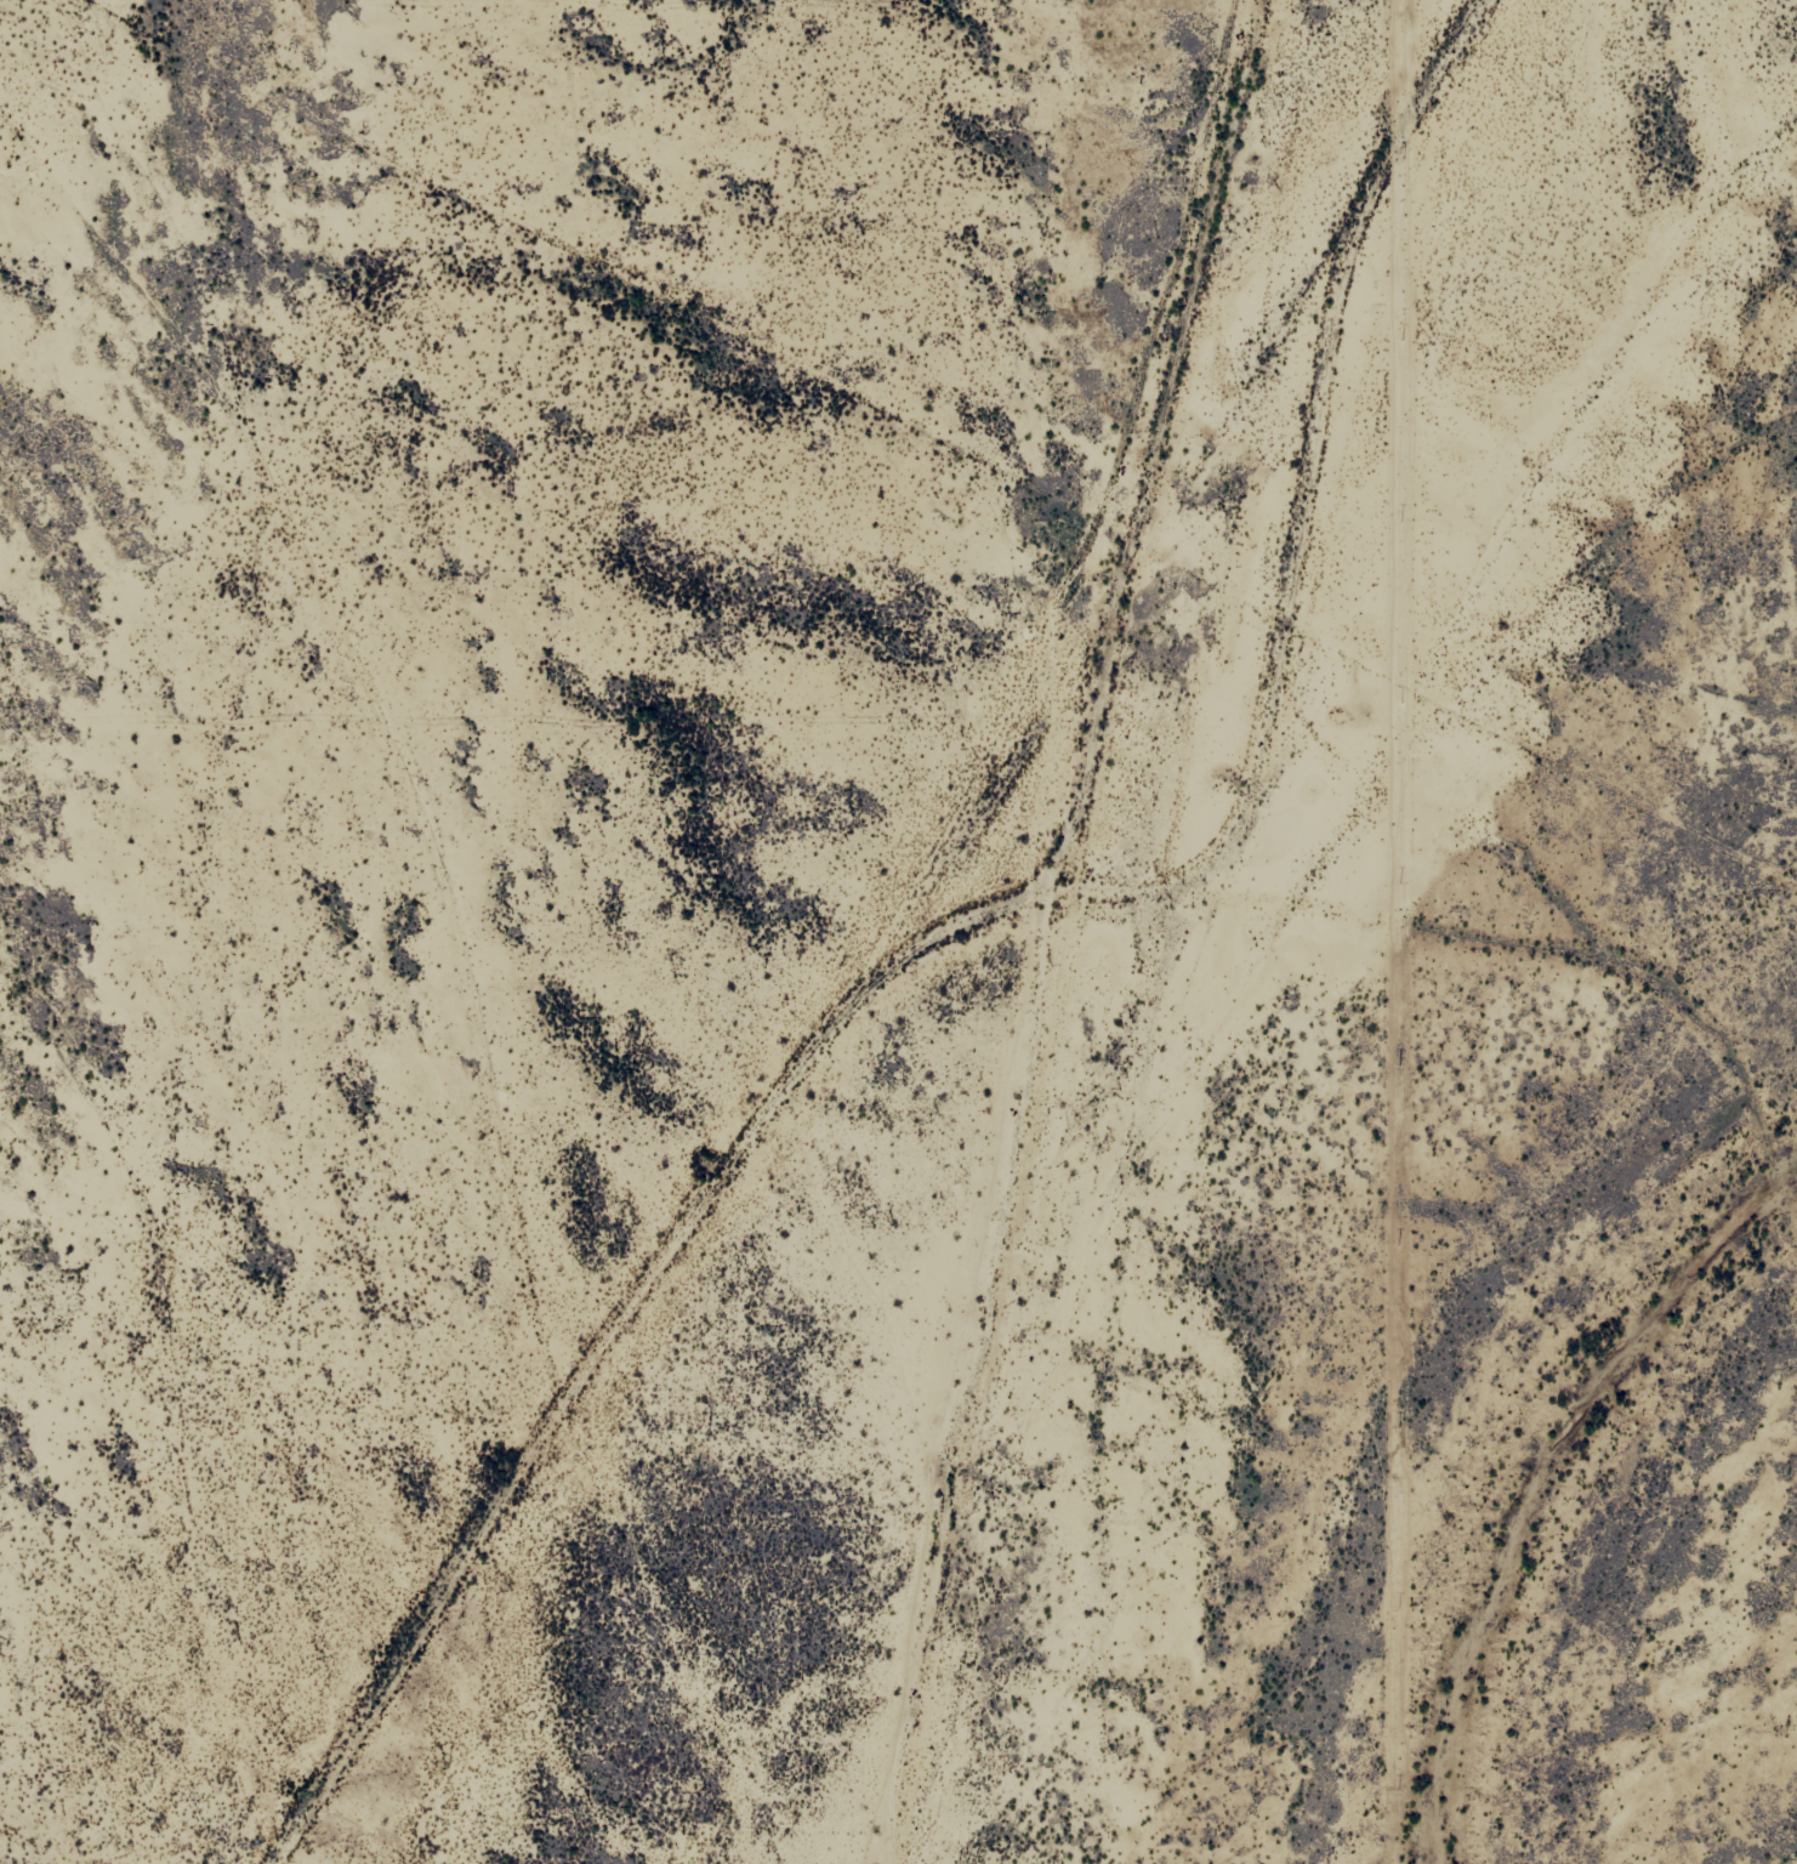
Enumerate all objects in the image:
road: (1338, 447)
road: (1116, 592)
road: (1462, 849)
road: (875, 1013)

